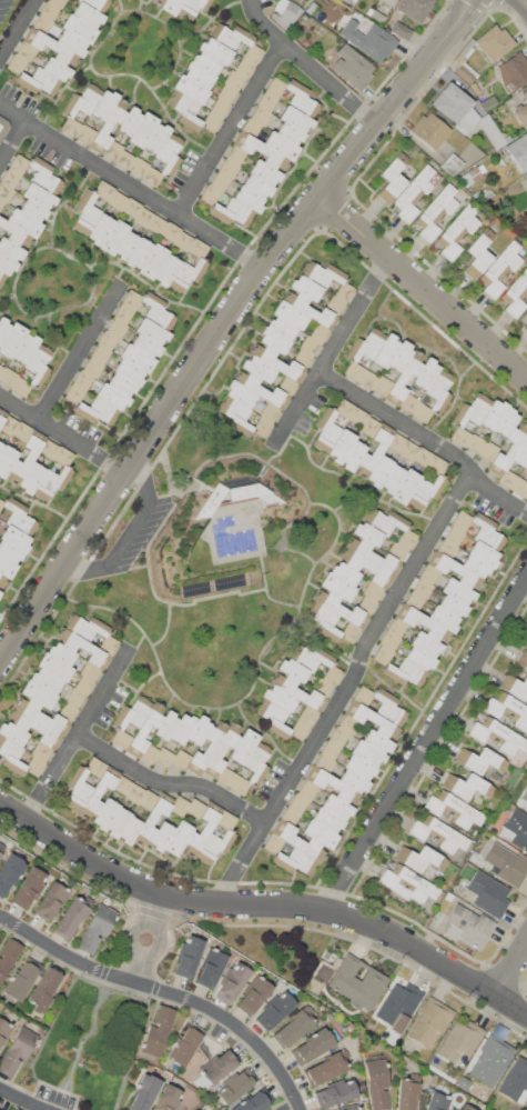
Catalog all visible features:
building: (339, 0)
building: (388, 1)
building: (58, 2)
building: (156, 2)
road: (524, 2)
building: (92, 3)
building: (170, 6)
building: (192, 7)
building: (414, 9)
building: (49, 10)
building: (286, 12)
building: (87, 14)
building: (376, 14)
building: (43, 22)
building: (79, 29)
building: (398, 29)
road: (19, 31)
building: (231, 36)
building: (369, 39)
building: (71, 42)
building: (494, 42)
building: (52, 48)
building: (214, 50)
building: (27, 51)
building: (252, 53)
building: (206, 62)
building: (16, 63)
building: (465, 63)
road: (312, 67)
building: (244, 68)
building: (353, 68)
building: (55, 69)
building: (511, 72)
building: (199, 74)
building: (234, 79)
building: (39, 81)
building: (275, 87)
building: (190, 89)
building: (227, 92)
building: (301, 99)
building: (82, 100)
building: (267, 101)
building: (488, 103)
building: (104, 104)
building: (221, 107)
building: (456, 107)
building: (186, 110)
building: (521, 110)
building: (261, 116)
building: (296, 119)
building: (1, 121)
building: (130, 121)
building: (211, 121)
building: (111, 122)
building: (71, 127)
building: (251, 127)
building: (142, 129)
road: (232, 129)
building: (429, 130)
building: (490, 131)
building: (85, 133)
building: (290, 133)
building: (155, 138)
building: (507, 138)
road: (13, 143)
building: (281, 146)
building: (97, 148)
building: (113, 150)
building: (260, 150)
building: (518, 151)
building: (169, 153)
building: (235, 154)
building: (123, 159)
building: (472, 160)
building: (450, 163)
building: (19, 164)
building: (139, 167)
building: (229, 168)
building: (264, 172)
building: (43, 176)
building: (152, 176)
building: (472, 176)
building: (10, 178)
building: (392, 178)
building: (220, 180)
road: (131, 186)
building: (257, 186)
building: (103, 190)
building: (6, 192)
building: (415, 192)
building: (210, 193)
building: (39, 196)
building: (249, 199)
building: (116, 200)
building: (1, 203)
building: (131, 207)
building: (33, 210)
building: (231, 211)
building: (87, 212)
building: (435, 212)
building: (143, 217)
building: (24, 222)
building: (155, 224)
building: (100, 229)
building: (171, 231)
building: (457, 231)
building: (16, 234)
building: (113, 237)
building: (183, 241)
building: (126, 246)
building: (199, 248)
building: (11, 249)
building: (139, 253)
building: (478, 253)
building: (152, 261)
building: (7, 264)
building: (165, 269)
building: (500, 269)
building: (186, 273)
building: (323, 273)
building: (2, 278)
road: (423, 287)
building: (305, 288)
building: (344, 291)
building: (516, 294)
building: (132, 300)
building: (334, 304)
building: (310, 309)
building: (156, 311)
building: (123, 313)
building: (290, 314)
building: (525, 316)
road: (225, 322)
building: (282, 327)
building: (3, 328)
building: (116, 328)
building: (526, 328)
building: (151, 331)
building: (320, 332)
building: (12, 339)
building: (107, 339)
building: (274, 339)
building: (145, 344)
building: (310, 344)
building: (366, 344)
building: (24, 348)
road: (336, 350)
building: (386, 350)
road: (81, 352)
building: (100, 353)
building: (401, 356)
building: (136, 358)
building: (303, 358)
building: (277, 362)
building: (38, 363)
building: (93, 367)
building: (1, 368)
building: (259, 368)
building: (355, 371)
building: (129, 372)
building: (425, 373)
building: (8, 376)
building: (404, 377)
building: (83, 379)
building: (368, 379)
building: (121, 384)
building: (287, 384)
building: (383, 384)
building: (20, 387)
building: (261, 389)
building: (438, 390)
building: (74, 392)
building: (240, 393)
building: (112, 396)
building: (408, 402)
building: (343, 408)
building: (473, 409)
building: (97, 410)
building: (270, 411)
building: (422, 412)
building: (236, 414)
building: (493, 414)
building: (2, 416)
building: (357, 417)
building: (506, 422)
building: (8, 424)
building: (262, 427)
building: (369, 427)
building: (326, 430)
building: (22, 431)
road: (62, 436)
building: (460, 437)
road: (429, 439)
building: (396, 441)
building: (475, 443)
building: (341, 444)
building: (1, 447)
building: (374, 450)
building: (488, 450)
building: (507, 450)
building: (408, 451)
building: (520, 452)
building: (9, 453)
building: (353, 454)
building: (26, 457)
building: (423, 457)
building: (436, 464)
building: (526, 467)
building: (379, 469)
building: (30, 478)
building: (392, 478)
building: (508, 479)
building: (51, 481)
building: (405, 484)
building: (520, 488)
building: (426, 490)
building: (1, 502)
building: (19, 517)
building: (460, 520)
building: (385, 521)
building: (487, 532)
building: (367, 533)
building: (454, 534)
building: (14, 538)
building: (406, 538)
road: (130, 541)
building: (446, 548)
building: (396, 550)
building: (9, 551)
building: (373, 554)
building: (484, 554)
building: (6, 567)
building: (476, 567)
building: (343, 569)
building: (454, 570)
building: (428, 574)
building: (2, 582)
building: (337, 587)
building: (423, 588)
building: (373, 590)
building: (457, 591)
building: (414, 601)
building: (367, 604)
building: (453, 606)
building: (342, 609)
building: (443, 618)
building: (324, 621)
building: (422, 623)
building: (87, 627)
building: (396, 627)
building: (349, 632)
building: (526, 634)
building: (389, 640)
building: (109, 644)
building: (425, 644)
building: (81, 647)
building: (61, 653)
building: (383, 654)
building: (310, 657)
building: (419, 658)
building: (523, 660)
building: (53, 667)
building: (293, 670)
building: (90, 671)
building: (405, 672)
building: (332, 674)
building: (45, 680)
building: (83, 684)
building: (515, 686)
building: (322, 687)
building: (298, 691)
road: (346, 691)
building: (38, 693)
building: (363, 696)
building: (74, 698)
building: (280, 698)
building: (388, 708)
building: (508, 711)
building: (67, 712)
building: (133, 712)
building: (308, 714)
building: (274, 718)
building: (372, 719)
building: (38, 721)
building: (348, 724)
building: (166, 726)
building: (146, 729)
building: (182, 729)
building: (300, 729)
building: (197, 730)
building: (12, 732)
building: (338, 736)
building: (497, 737)
building: (119, 738)
road: (78, 739)
building: (376, 741)
building: (243, 746)
road: (427, 746)
building: (206, 748)
building: (331, 749)
building: (41, 750)
building: (221, 750)
building: (149, 753)
building: (367, 753)
building: (11, 754)
building: (164, 757)
building: (181, 759)
building: (479, 760)
building: (256, 762)
building: (325, 763)
building: (34, 766)
building: (95, 767)
building: (358, 767)
building: (225, 776)
building: (353, 780)
building: (122, 784)
road: (173, 784)
building: (239, 784)
building: (333, 786)
building: (467, 786)
building: (78, 789)
building: (307, 789)
building: (98, 792)
building: (134, 793)
building: (148, 799)
building: (523, 800)
building: (298, 802)
building: (179, 806)
building: (336, 807)
building: (195, 808)
building: (454, 809)
building: (105, 813)
building: (290, 816)
building: (326, 819)
building: (152, 820)
building: (225, 820)
building: (118, 822)
building: (202, 829)
building: (515, 829)
building: (129, 830)
building: (320, 833)
building: (438, 833)
building: (161, 836)
building: (176, 838)
building: (298, 841)
building: (273, 843)
building: (214, 846)
building: (1, 848)
building: (420, 859)
building: (295, 861)
building: (477, 862)
building: (507, 863)
building: (10, 871)
building: (408, 884)
building: (30, 886)
building: (488, 892)
building: (448, 896)
building: (50, 900)
road: (264, 904)
road: (159, 909)
building: (72, 916)
road: (146, 924)
building: (99, 926)
building: (468, 927)
building: (8, 956)
building: (188, 956)
building: (210, 967)
road: (141, 970)
road: (511, 970)
building: (232, 981)
building: (21, 982)
building: (357, 982)
building: (44, 987)
road: (168, 992)
building: (253, 996)
building: (398, 1004)
building: (275, 1010)
building: (429, 1021)
building: (295, 1026)
building: (3, 1031)
building: (158, 1031)
building: (459, 1041)
building: (185, 1044)
building: (314, 1044)
building: (17, 1051)
building: (491, 1056)
building: (326, 1068)
building: (215, 1069)
building: (515, 1081)
building: (377, 1083)
building: (235, 1084)
building: (407, 1091)
building: (143, 1092)
building: (335, 1092)
building: (168, 1098)
road: (23, 1099)
building: (254, 1101)
building: (437, 1101)
building: (349, 1107)
building: (465, 1107)
building: (0, 1109)
building: (13, 1109)
building: (18, 1109)
building: (194, 1109)
building: (195, 1109)

